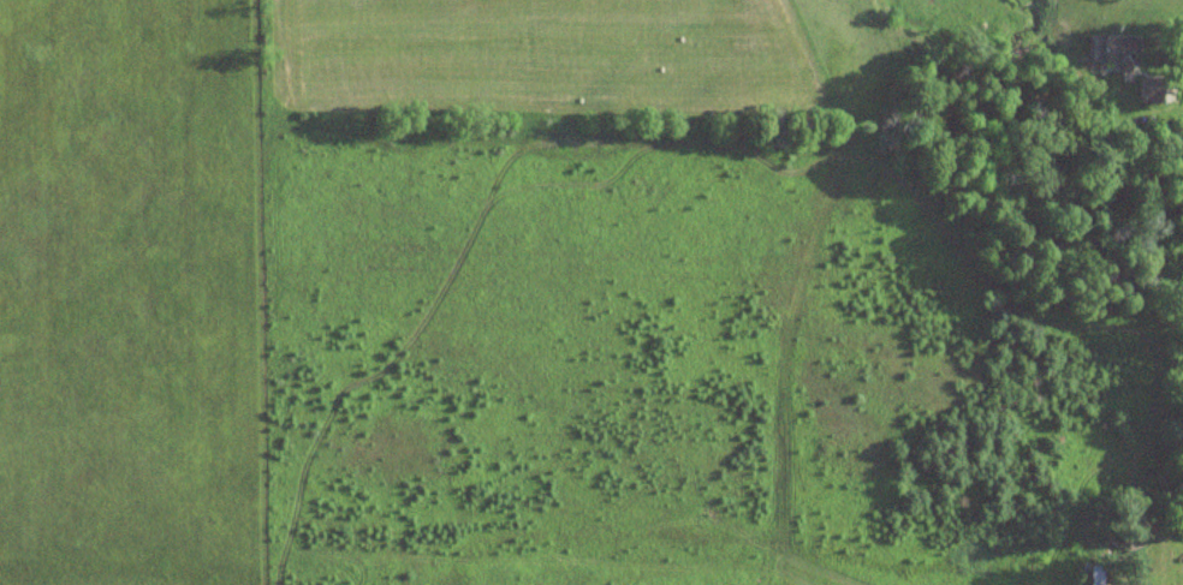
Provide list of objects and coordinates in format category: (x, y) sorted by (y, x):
building: (1116, 52)

